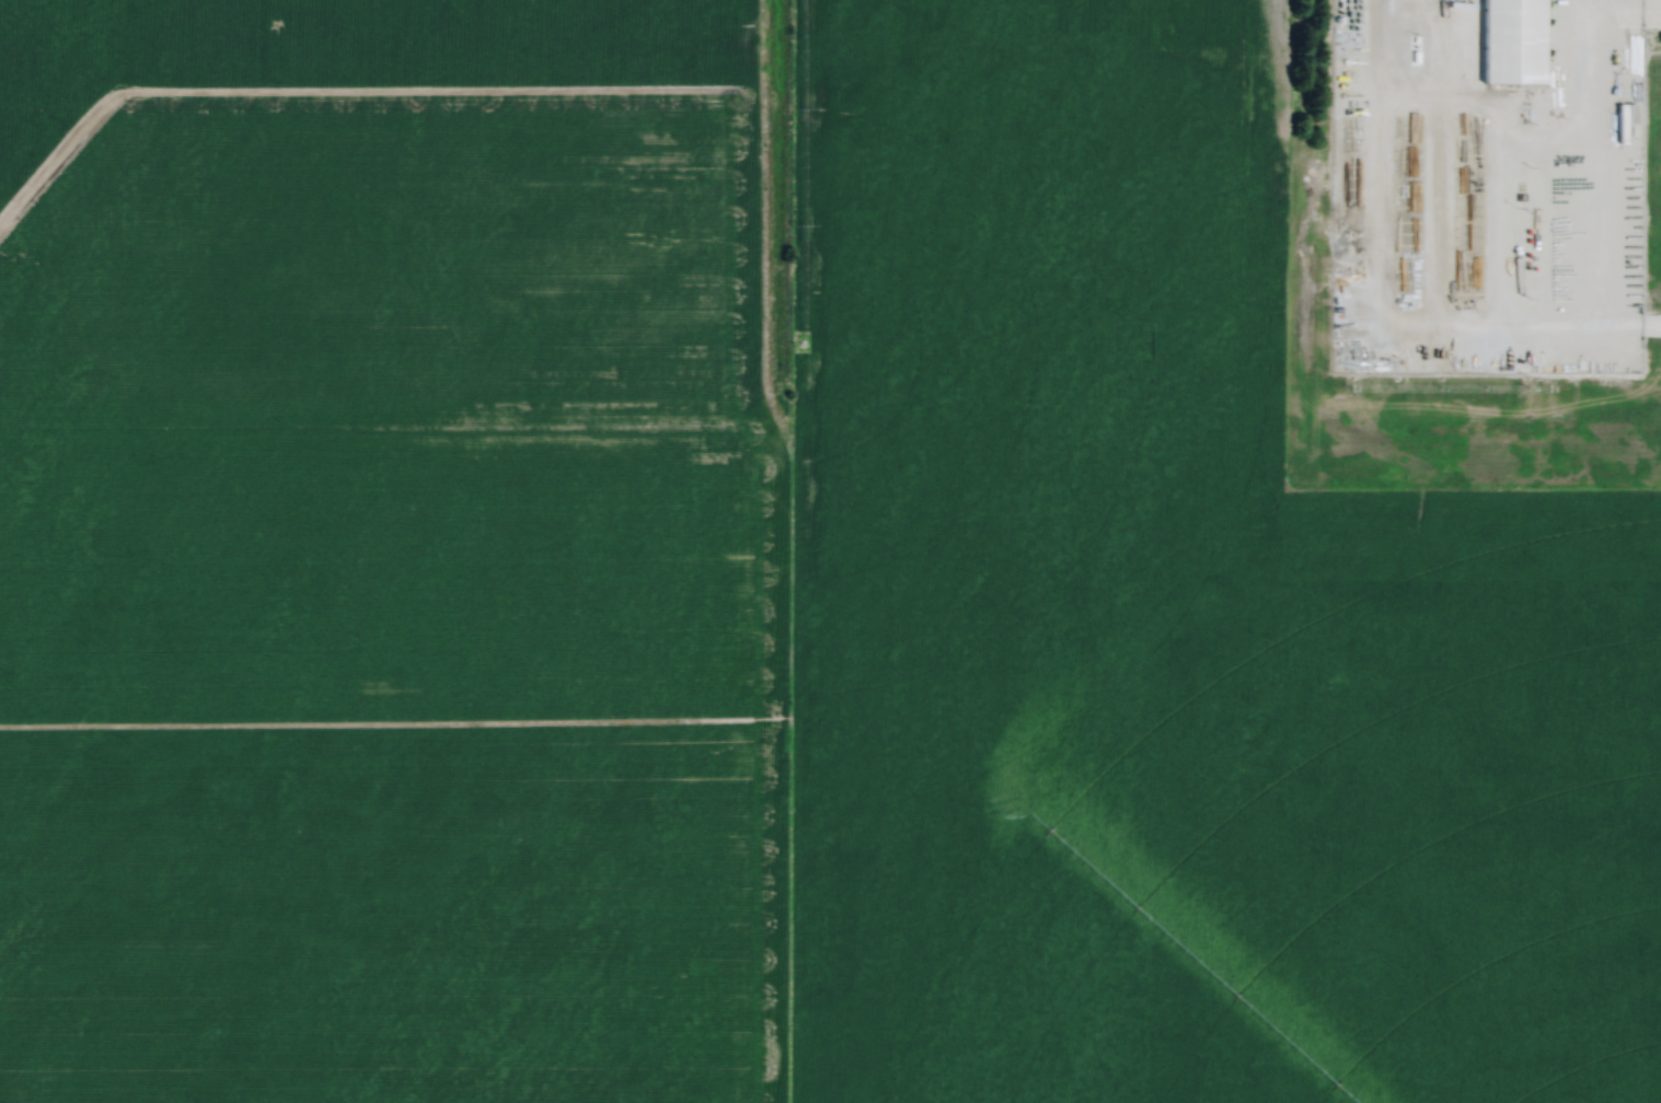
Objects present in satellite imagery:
road: (1630, 9)
building: (1516, 42)

